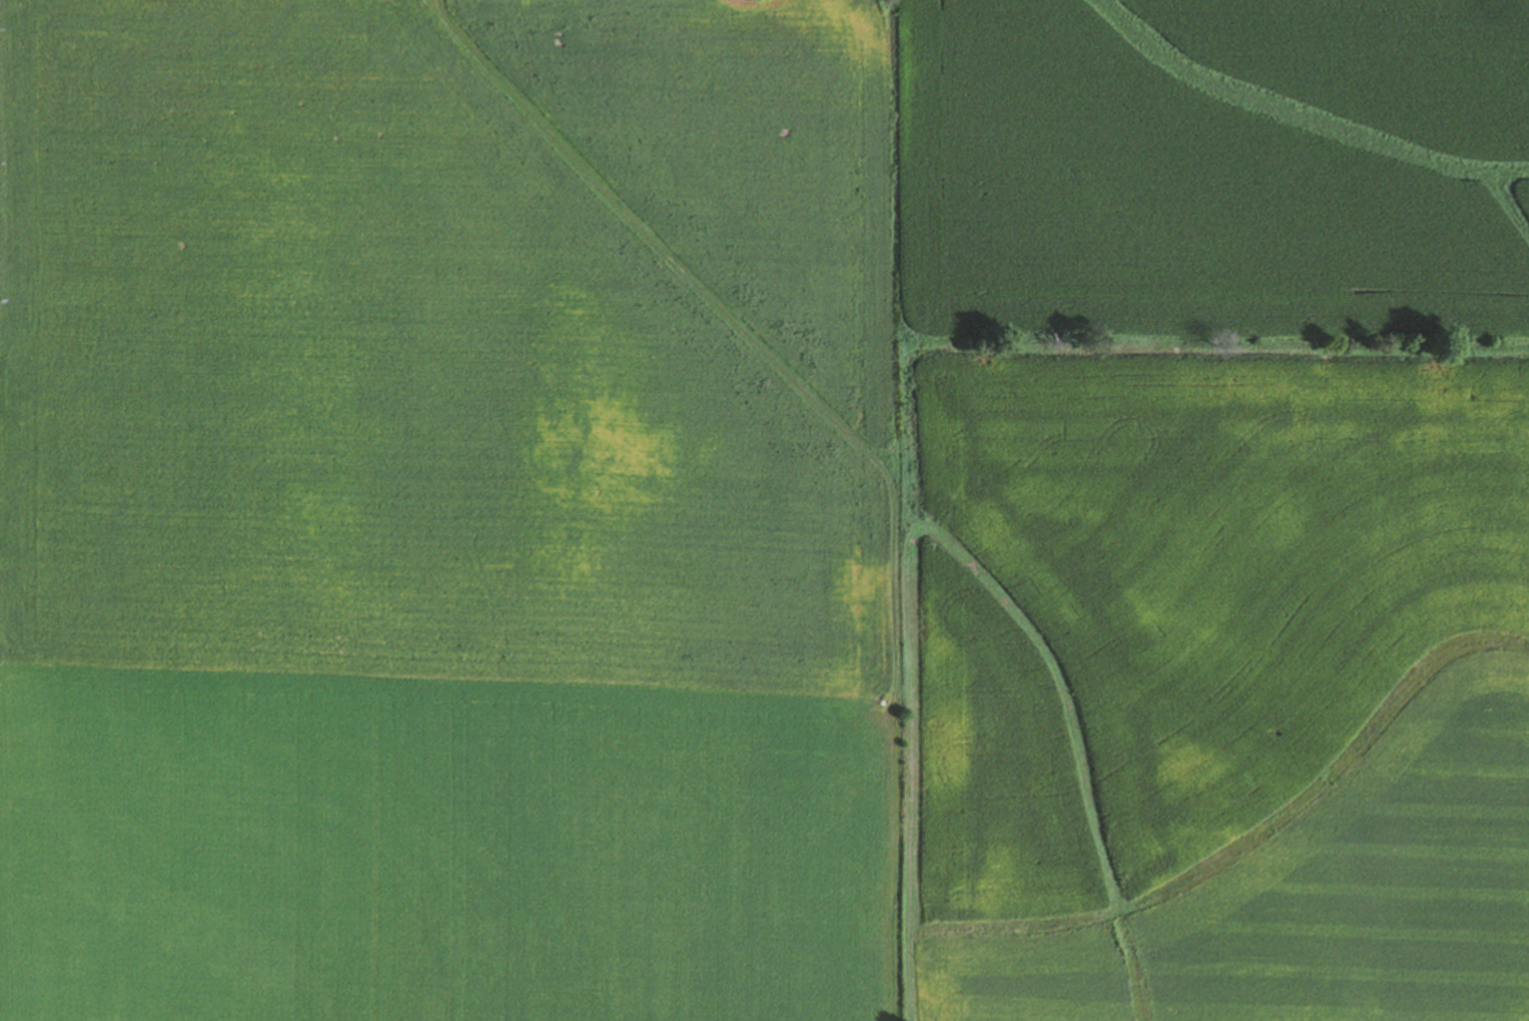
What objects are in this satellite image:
road: (719, 306)

